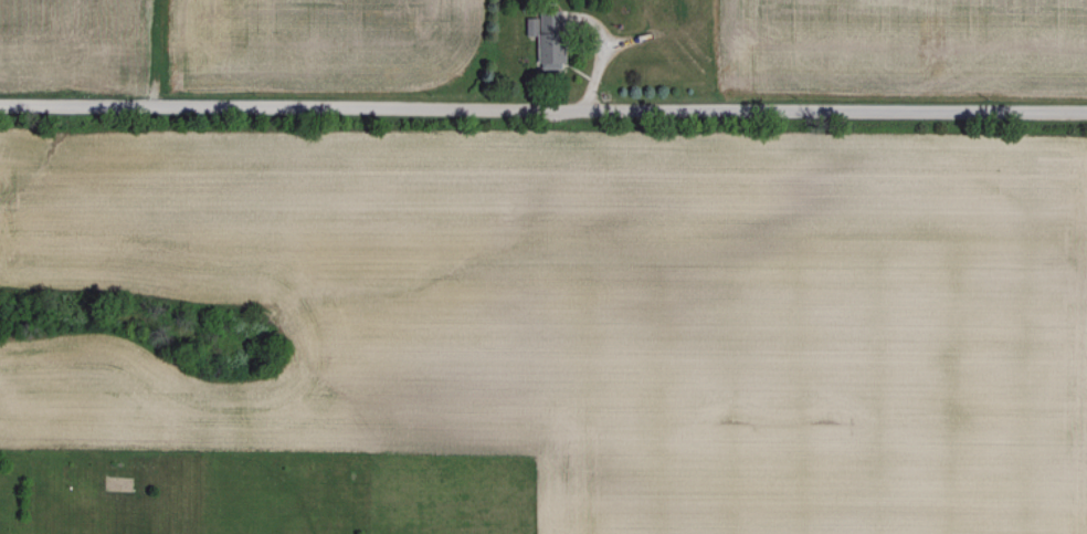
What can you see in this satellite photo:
building: (545, 38)
road: (543, 107)

